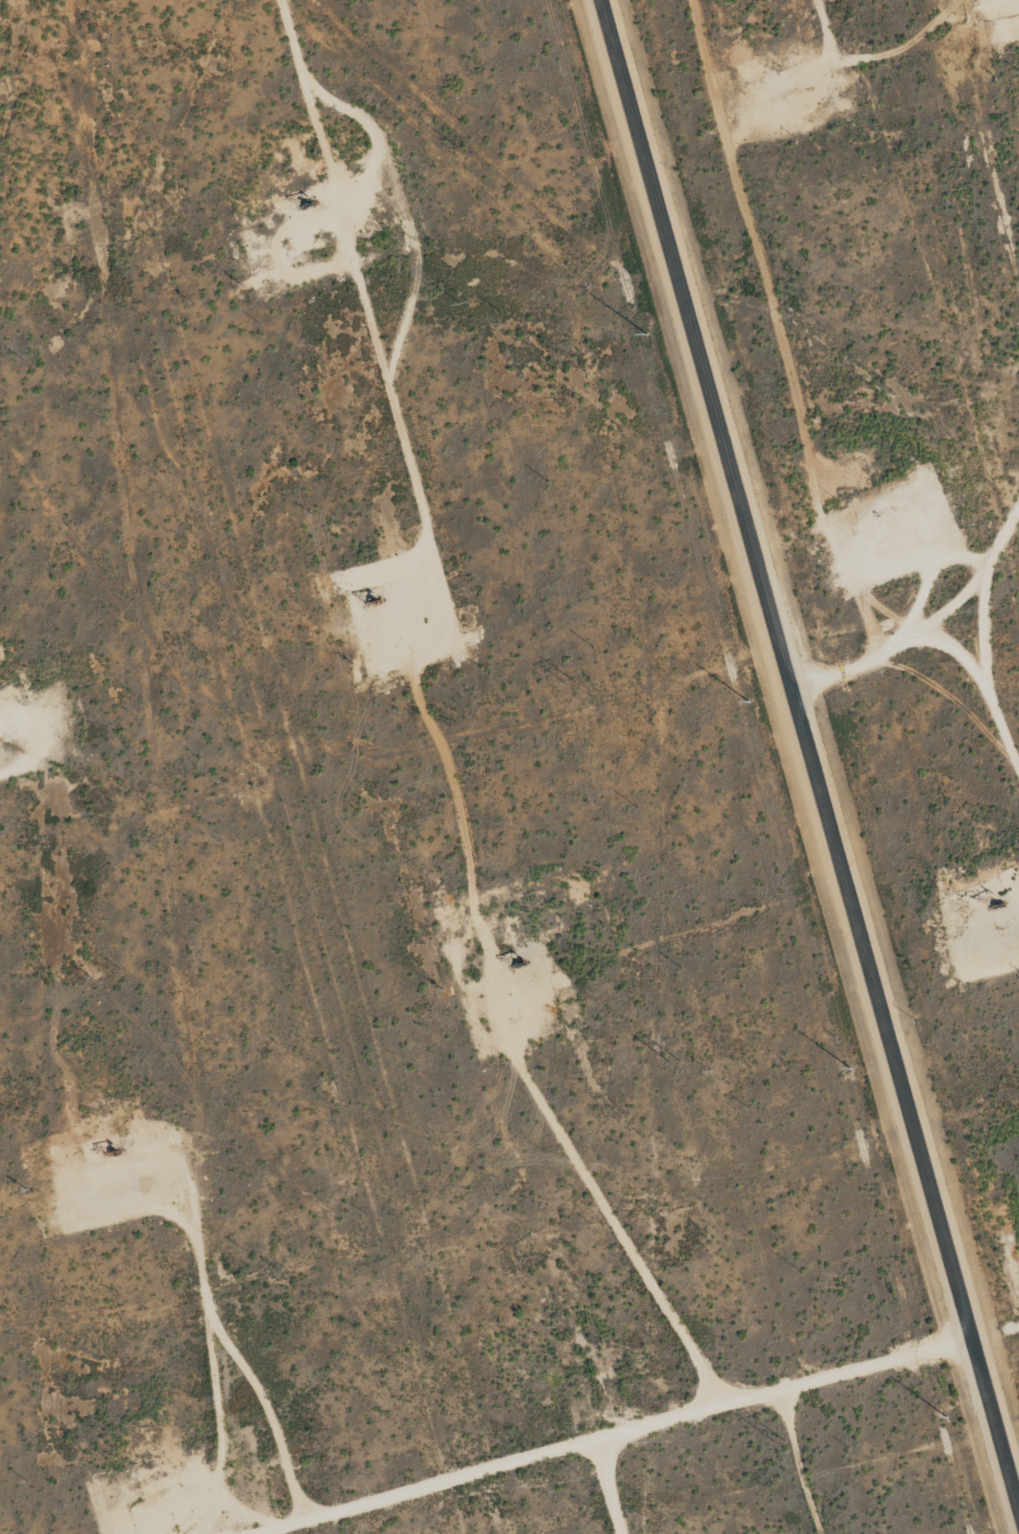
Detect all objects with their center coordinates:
road: (415, 284)
power tower: (466, 306)
road: (926, 621)
power tower: (571, 682)
road: (810, 752)
power tower: (676, 1074)
road: (638, 1431)
power tower: (782, 1457)
road: (609, 1488)

